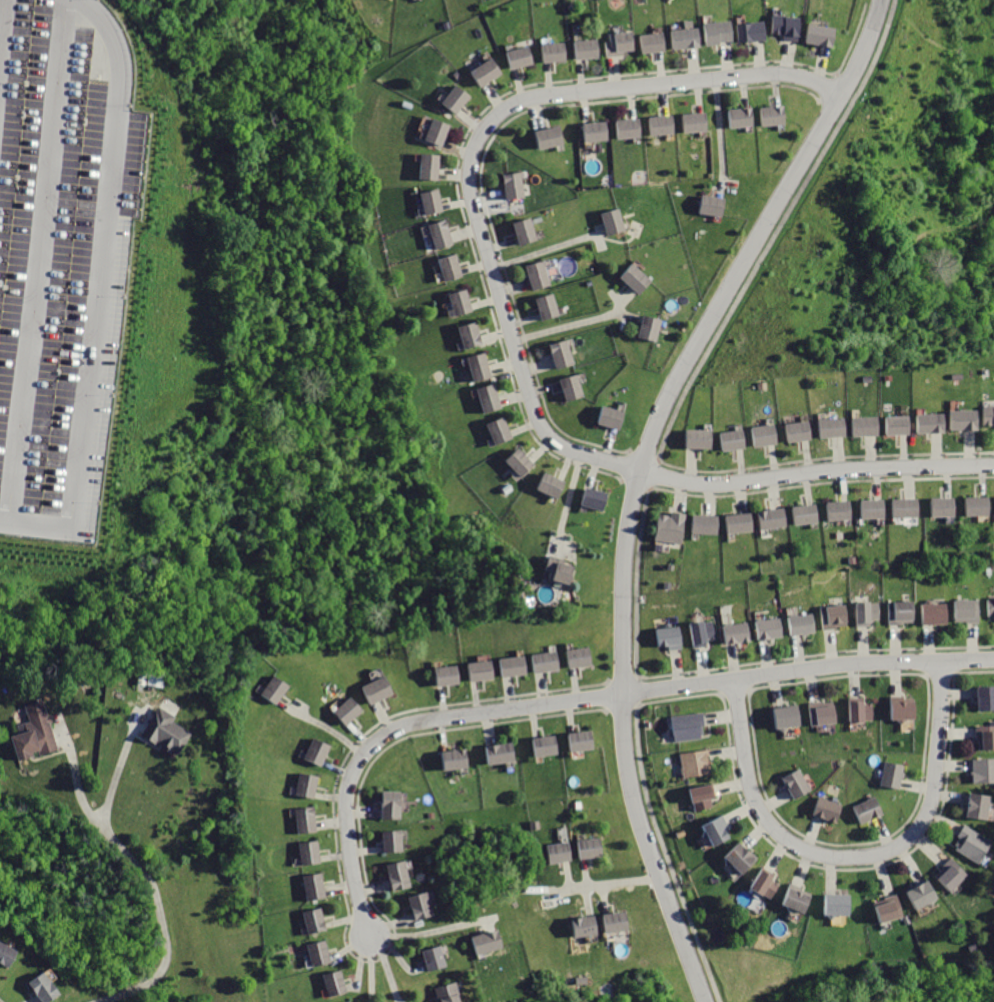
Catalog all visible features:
park: (832, 5)
road: (1, 12)
building: (789, 27)
building: (754, 30)
building: (718, 32)
building: (822, 36)
building: (687, 39)
building: (655, 42)
building: (621, 44)
building: (588, 50)
building: (556, 52)
building: (522, 57)
building: (488, 71)
building: (460, 100)
road: (506, 109)
building: (774, 115)
building: (742, 117)
building: (696, 122)
building: (663, 124)
building: (630, 128)
building: (599, 131)
building: (440, 132)
building: (552, 137)
road: (721, 138)
building: (433, 167)
building: (518, 185)
building: (435, 200)
building: (714, 205)
building: (616, 222)
building: (529, 231)
building: (443, 233)
road: (774, 237)
road: (552, 248)
road: (37, 261)
building: (453, 267)
building: (541, 274)
building: (639, 277)
road: (97, 293)
building: (465, 301)
road: (628, 301)
building: (552, 305)
road: (581, 322)
building: (653, 328)
building: (473, 334)
building: (564, 354)
building: (483, 366)
building: (575, 386)
building: (493, 398)
building: (613, 416)
building: (990, 416)
building: (965, 419)
building: (933, 423)
building: (900, 425)
building: (868, 426)
building: (836, 428)
building: (504, 430)
building: (802, 431)
building: (767, 435)
building: (702, 439)
building: (736, 441)
building: (522, 462)
road: (641, 478)
road: (764, 479)
building: (554, 485)
building: (596, 499)
road: (569, 505)
building: (979, 506)
building: (946, 507)
building: (909, 508)
building: (874, 509)
building: (842, 511)
building: (809, 514)
building: (775, 518)
building: (742, 523)
building: (708, 525)
building: (674, 526)
building: (562, 570)
road: (639, 584)
building: (992, 607)
building: (903, 612)
building: (969, 612)
building: (870, 613)
building: (938, 614)
building: (836, 616)
building: (804, 624)
building: (772, 630)
building: (705, 634)
building: (740, 634)
building: (674, 639)
building: (582, 658)
building: (548, 662)
building: (516, 666)
building: (483, 670)
building: (449, 675)
building: (274, 690)
building: (378, 691)
building: (987, 698)
road: (579, 700)
building: (906, 708)
building: (863, 710)
building: (350, 712)
building: (825, 715)
building: (790, 717)
road: (325, 724)
building: (691, 725)
building: (169, 731)
building: (39, 733)
building: (986, 737)
building: (584, 742)
building: (548, 747)
road: (127, 751)
building: (319, 753)
building: (502, 754)
building: (458, 760)
building: (699, 763)
building: (984, 770)
building: (895, 776)
building: (801, 784)
building: (310, 786)
building: (706, 797)
building: (394, 807)
building: (981, 807)
building: (829, 809)
building: (871, 810)
building: (310, 821)
building: (720, 832)
building: (397, 842)
building: (976, 844)
building: (594, 848)
road: (668, 850)
building: (313, 852)
building: (562, 853)
building: (744, 858)
road: (857, 858)
road: (147, 873)
road: (590, 873)
building: (402, 875)
road: (572, 876)
building: (954, 876)
road: (611, 884)
building: (768, 884)
building: (318, 886)
building: (925, 895)
building: (800, 899)
road: (608, 901)
road: (589, 903)
building: (424, 906)
building: (841, 906)
building: (893, 909)
building: (318, 921)
building: (619, 923)
building: (587, 926)
road: (440, 930)
building: (491, 943)
building: (8, 953)
building: (324, 953)
building: (438, 958)
road: (391, 969)
road: (375, 971)
building: (339, 982)
building: (47, 989)
building: (450, 993)
building: (348, 1001)
building: (353, 1001)

